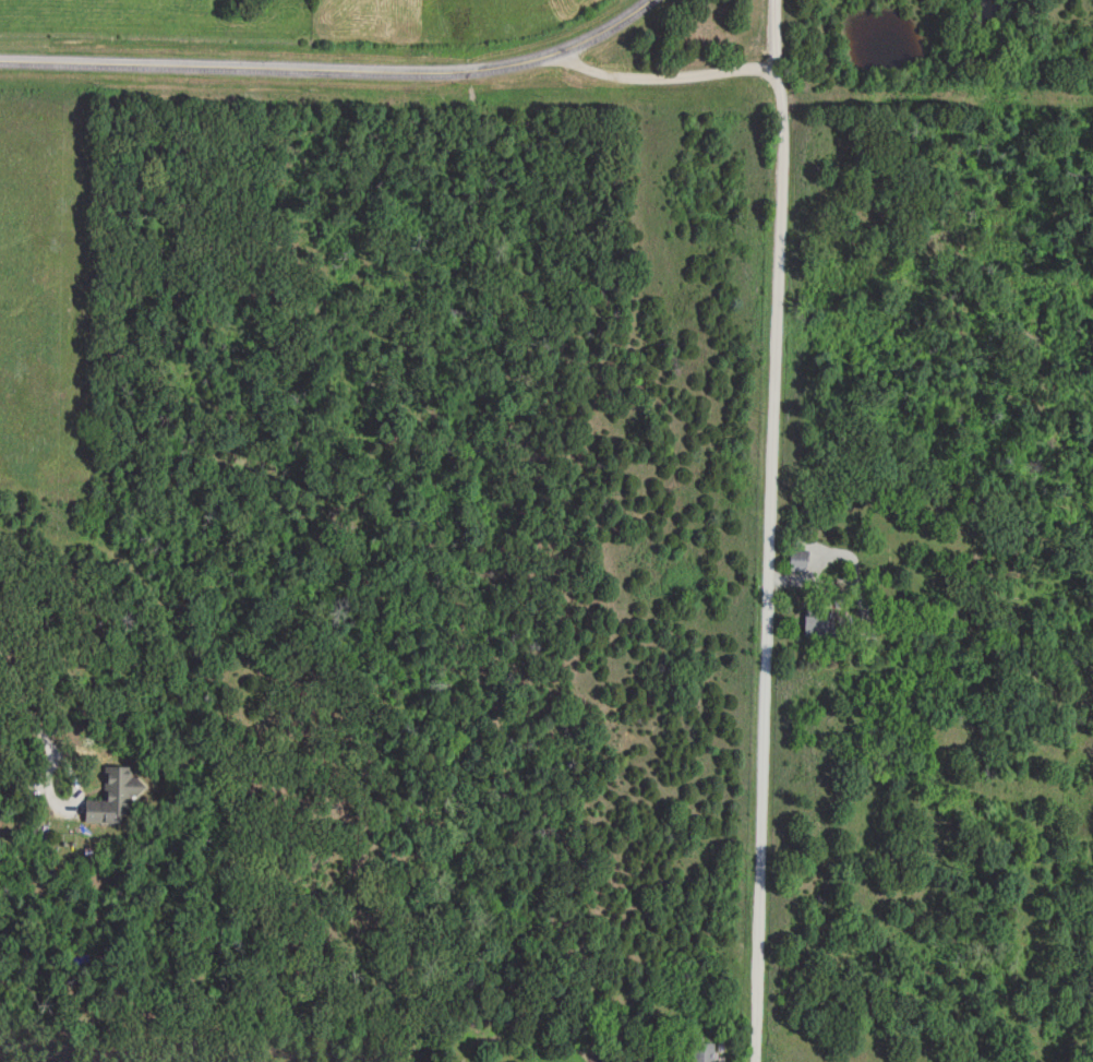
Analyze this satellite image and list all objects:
road: (335, 69)
road: (659, 76)
road: (764, 530)
building: (798, 559)
building: (820, 621)
road: (44, 731)
building: (116, 796)
building: (702, 1051)

